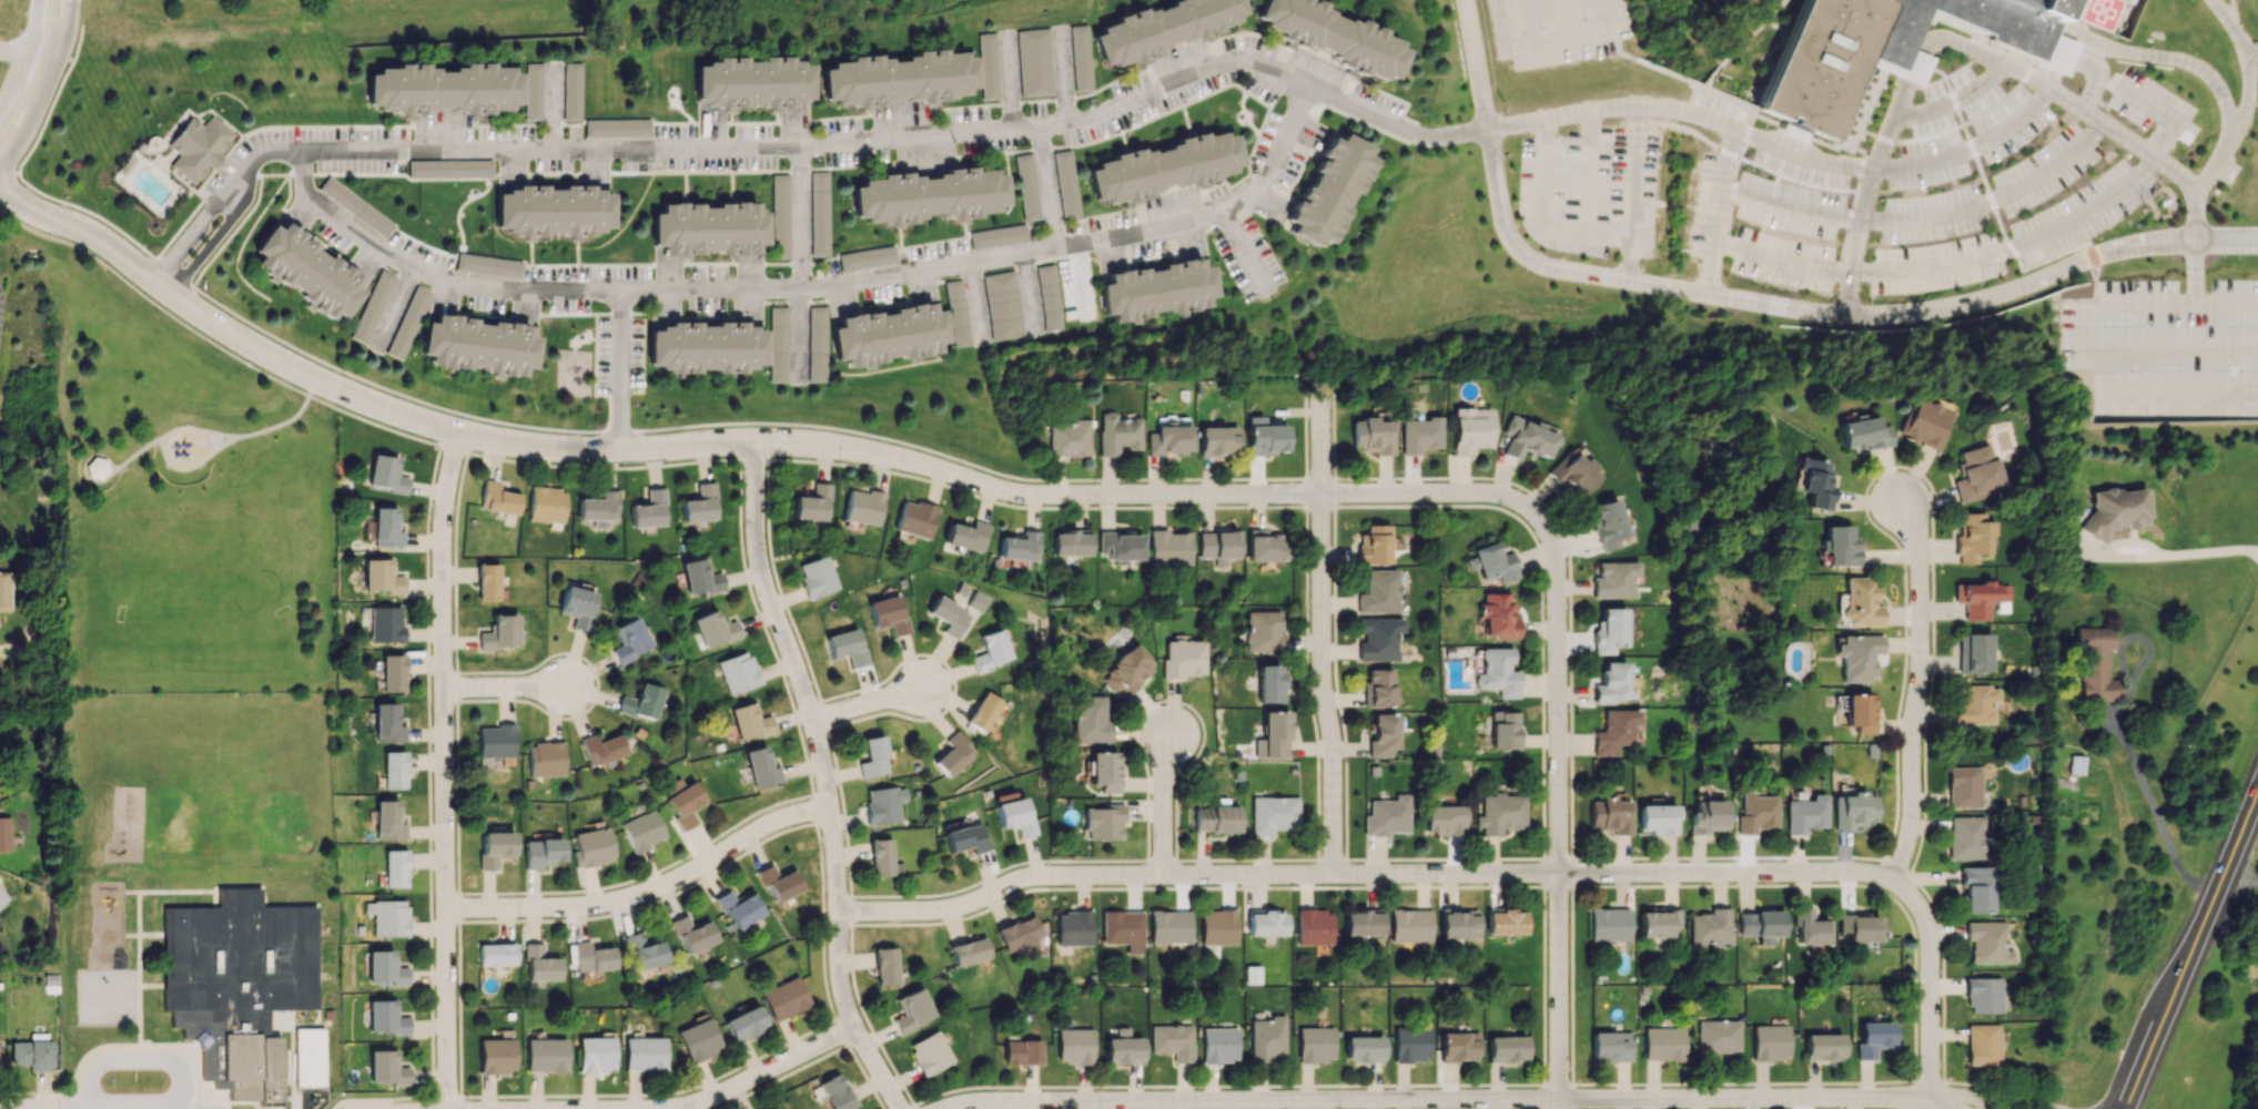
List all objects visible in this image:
road: (1775, 10)
helipad: (2094, 10)
road: (83, 11)
road: (2230, 11)
building: (2086, 13)
road: (2076, 16)
road: (1561, 19)
road: (2227, 22)
building: (1957, 26)
building: (1161, 29)
parking lot: (1555, 31)
road: (1601, 32)
building: (1333, 37)
road: (1746, 41)
road: (1776, 41)
road: (1923, 41)
road: (2066, 41)
road: (1520, 43)
building: (2052, 51)
road: (2248, 51)
road: (13, 57)
road: (2095, 57)
road: (28, 58)
building: (1075, 59)
road: (2175, 59)
road: (1643, 63)
building: (1817, 64)
building: (986, 65)
building: (1031, 67)
road: (1923, 67)
building: (1910, 68)
road: (2054, 70)
road: (1955, 73)
road: (2092, 73)
road: (2023, 74)
road: (1713, 75)
building: (897, 79)
road: (2105, 81)
building: (751, 83)
road: (1933, 84)
road: (43, 88)
building: (441, 88)
road: (2013, 90)
building: (568, 92)
building: (529, 93)
road: (2095, 94)
road: (2246, 95)
road: (52, 101)
road: (1953, 102)
road: (1952, 103)
road: (2144, 103)
parking lot: (2147, 105)
road: (1743, 108)
parking lot: (1967, 108)
road: (1610, 109)
parking lot: (1714, 110)
road: (1866, 110)
road: (1763, 121)
building: (616, 131)
road: (1688, 132)
building: (1788, 133)
road: (2154, 133)
road: (2124, 139)
road: (1788, 140)
road: (1910, 142)
road: (2166, 142)
road: (1883, 143)
building: (192, 146)
road: (814, 149)
road: (1830, 149)
road: (1970, 149)
road: (1800, 157)
road: (1860, 165)
building: (1163, 167)
parking lot: (1799, 167)
building: (448, 169)
road: (2210, 170)
road: (1587, 172)
road: (264, 173)
road: (1632, 173)
road: (7, 180)
road: (1793, 180)
building: (1063, 185)
road: (1047, 187)
building: (1024, 189)
building: (1329, 190)
road: (1539, 190)
parking lot: (1589, 191)
building: (928, 195)
road: (1729, 202)
road: (1992, 202)
parking lot: (1995, 204)
building: (354, 206)
road: (1788, 207)
building: (554, 211)
road: (1714, 211)
building: (817, 214)
building: (778, 217)
road: (457, 218)
road: (2194, 218)
parking lot: (1768, 227)
building: (707, 228)
road: (251, 230)
road: (1845, 231)
road: (2001, 233)
building: (998, 236)
road: (1606, 236)
road: (1855, 241)
road: (586, 247)
road: (2015, 250)
building: (867, 257)
road: (1629, 260)
road: (1780, 261)
building: (487, 265)
road: (799, 267)
building: (301, 271)
road: (2095, 271)
road: (2195, 272)
road: (165, 275)
road: (816, 289)
building: (1157, 289)
building: (1049, 297)
road: (153, 301)
road: (1761, 302)
road: (2107, 304)
road: (2227, 304)
parking lot: (1, 305)
building: (1002, 305)
road: (394, 308)
building: (372, 309)
building: (956, 313)
building: (406, 324)
building: (888, 335)
building: (778, 344)
building: (478, 345)
building: (816, 345)
building: (706, 347)
parking lot: (2167, 349)
road: (2181, 349)
parking lot: (618, 355)
road: (624, 375)
road: (2165, 394)
road: (372, 421)
building: (1925, 421)
building: (1470, 429)
road: (175, 430)
building: (1116, 434)
building: (1863, 434)
building: (1419, 435)
building: (1373, 436)
building: (1264, 437)
building: (1067, 438)
building: (1168, 439)
building: (1526, 439)
building: (1216, 440)
road: (454, 447)
road: (756, 448)
road: (932, 450)
road: (753, 459)
road: (191, 467)
building: (98, 468)
building: (384, 472)
building: (1573, 472)
building: (1975, 474)
building: (1815, 482)
building: (399, 485)
building: (499, 497)
park: (180, 503)
building: (811, 503)
building: (547, 505)
building: (700, 505)
road: (1328, 506)
building: (598, 507)
building: (862, 507)
building: (649, 509)
building: (2116, 510)
building: (914, 518)
building: (1606, 523)
building: (387, 527)
building: (965, 536)
building: (1972, 537)
building: (1070, 542)
building: (1374, 545)
building: (1217, 546)
building: (1839, 546)
building: (1019, 547)
building: (1120, 547)
building: (1267, 547)
building: (1168, 548)
road: (2189, 551)
road: (455, 561)
building: (1492, 562)
building: (383, 577)
building: (700, 577)
building: (817, 577)
building: (1613, 579)
building: (486, 581)
park: (188, 584)
building: (4, 590)
building: (1378, 592)
building: (1978, 598)
building: (976, 601)
road: (755, 606)
building: (576, 607)
building: (888, 614)
building: (948, 615)
building: (1499, 615)
building: (386, 625)
building: (715, 629)
building: (1608, 630)
building: (1263, 631)
building: (499, 632)
building: (1378, 638)
building: (628, 640)
road: (1324, 640)
building: (846, 645)
building: (992, 650)
building: (1973, 652)
building: (1857, 657)
building: (1183, 658)
building: (2095, 665)
building: (1127, 670)
building: (738, 672)
building: (1498, 673)
building: (395, 674)
building: (1269, 683)
building: (1613, 684)
road: (456, 686)
building: (1378, 688)
road: (508, 689)
road: (1916, 691)
building: (640, 702)
road: (869, 703)
building: (1973, 704)
building: (988, 712)
building: (1857, 712)
building: (1090, 720)
building: (749, 721)
building: (386, 722)
building: (1505, 731)
building: (1613, 731)
building: (1381, 734)
building: (1273, 735)
building: (495, 743)
building: (601, 749)
building: (953, 754)
building: (873, 757)
building: (545, 759)
building: (2076, 764)
building: (761, 767)
road: (428, 769)
building: (394, 770)
building: (1104, 770)
road: (447, 771)
park: (181, 780)
road: (828, 781)
park: (264, 782)
road: (2141, 783)
building: (1963, 787)
road: (457, 796)
building: (681, 801)
road: (1163, 801)
building: (884, 804)
building: (1853, 810)
building: (1500, 813)
building: (1609, 813)
building: (1755, 813)
building: (1013, 814)
building: (1805, 814)
building: (1273, 815)
building: (1387, 816)
building: (1707, 817)
building: (1215, 818)
building: (1658, 818)
building: (1442, 820)
building: (388, 821)
building: (1104, 822)
road: (1559, 822)
building: (641, 831)
building: (4, 833)
building: (1965, 837)
building: (965, 838)
building: (591, 847)
building: (494, 848)
building: (541, 852)
building: (883, 858)
building: (395, 867)
road: (1365, 877)
building: (778, 882)
road: (1543, 886)
road: (1193, 887)
building: (1975, 889)
road: (649, 892)
building: (2, 897)
road: (458, 907)
building: (738, 908)
building: (387, 917)
building: (1505, 922)
building: (1363, 923)
building: (1657, 923)
building: (1266, 924)
building: (1458, 924)
building: (1609, 924)
building: (1410, 925)
building: (1760, 925)
building: (1169, 927)
building: (1218, 927)
building: (1314, 927)
building: (1809, 927)
building: (1859, 927)
building: (1073, 928)
building: (1708, 928)
building: (1123, 929)
building: (1017, 933)
building: (692, 934)
building: (1986, 943)
road: (2190, 947)
building: (644, 952)
building: (969, 952)
building: (496, 954)
building: (593, 957)
building: (539, 964)
building: (885, 965)
building: (385, 968)
building: (1253, 974)
building: (235, 979)
building: (50, 984)
road: (1571, 984)
road: (1930, 984)
road: (1543, 985)
building: (1983, 995)
building: (784, 998)
road: (458, 1008)
building: (911, 1010)
building: (324, 1015)
building: (385, 1017)
building: (743, 1024)
road: (839, 1030)
road: (879, 1035)
building: (1267, 1038)
building: (1715, 1038)
building: (1873, 1038)
building: (698, 1040)
building: (1172, 1040)
road: (853, 1042)
building: (1770, 1042)
building: (1315, 1044)
building: (1410, 1044)
building: (1663, 1044)
building: (1074, 1045)
building: (1218, 1045)
building: (1982, 1045)
building: (1610, 1046)
building: (1823, 1046)
building: (1458, 1047)
building: (1363, 1048)
building: (1506, 1048)
building: (1122, 1050)
building: (930, 1051)
building: (1022, 1051)
building: (595, 1054)
building: (644, 1054)
building: (32, 1055)
building: (546, 1055)
building: (496, 1056)
road: (132, 1058)
building: (305, 1059)
building: (386, 1068)
road: (758, 1072)
road: (864, 1076)
road: (779, 1077)
road: (1928, 1080)
road: (1558, 1082)
road: (1743, 1082)
road: (1973, 1083)
road: (1227, 1085)
road: (1916, 1089)
road: (654, 1092)
building: (834, 1092)
road: (61, 1095)
road: (445, 1096)
road: (1256, 1097)
road: (379, 1098)
road: (1743, 1098)
road: (1987, 1098)
road: (240, 1100)
road: (61, 1102)
road: (190, 1102)
road: (459, 1102)
road: (1560, 1103)
road: (1916, 1103)
road: (1938, 1103)
road: (181, 1105)
road: (77, 1106)
road: (93, 1106)
parking lot: (365, 1106)
road: (914, 1106)
road: (133, 1107)
road: (30, 1108)
building: (774, 1108)

